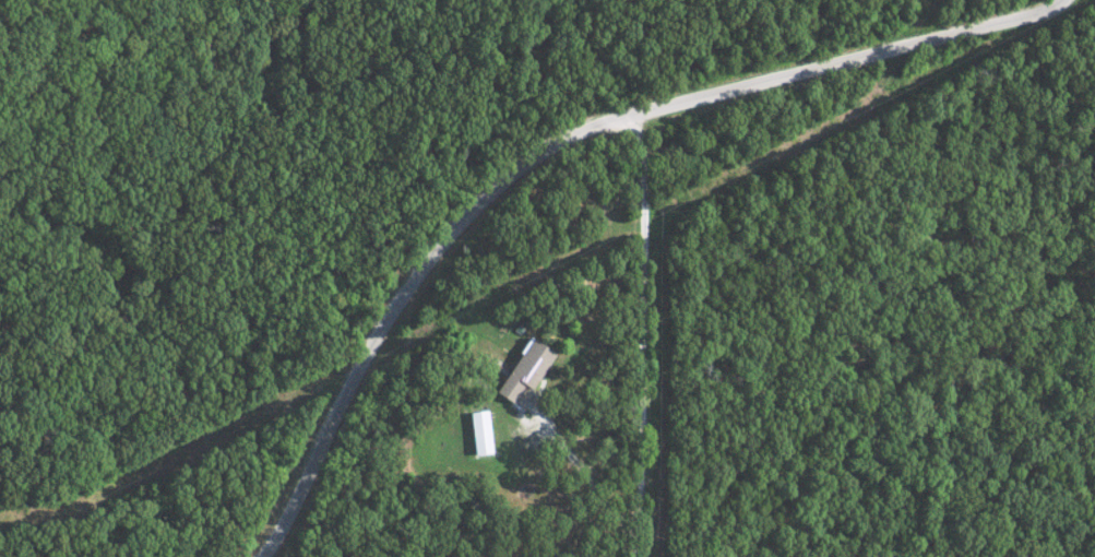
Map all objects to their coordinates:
road: (561, 142)
road: (640, 336)
building: (516, 371)
building: (472, 432)
road: (585, 475)

